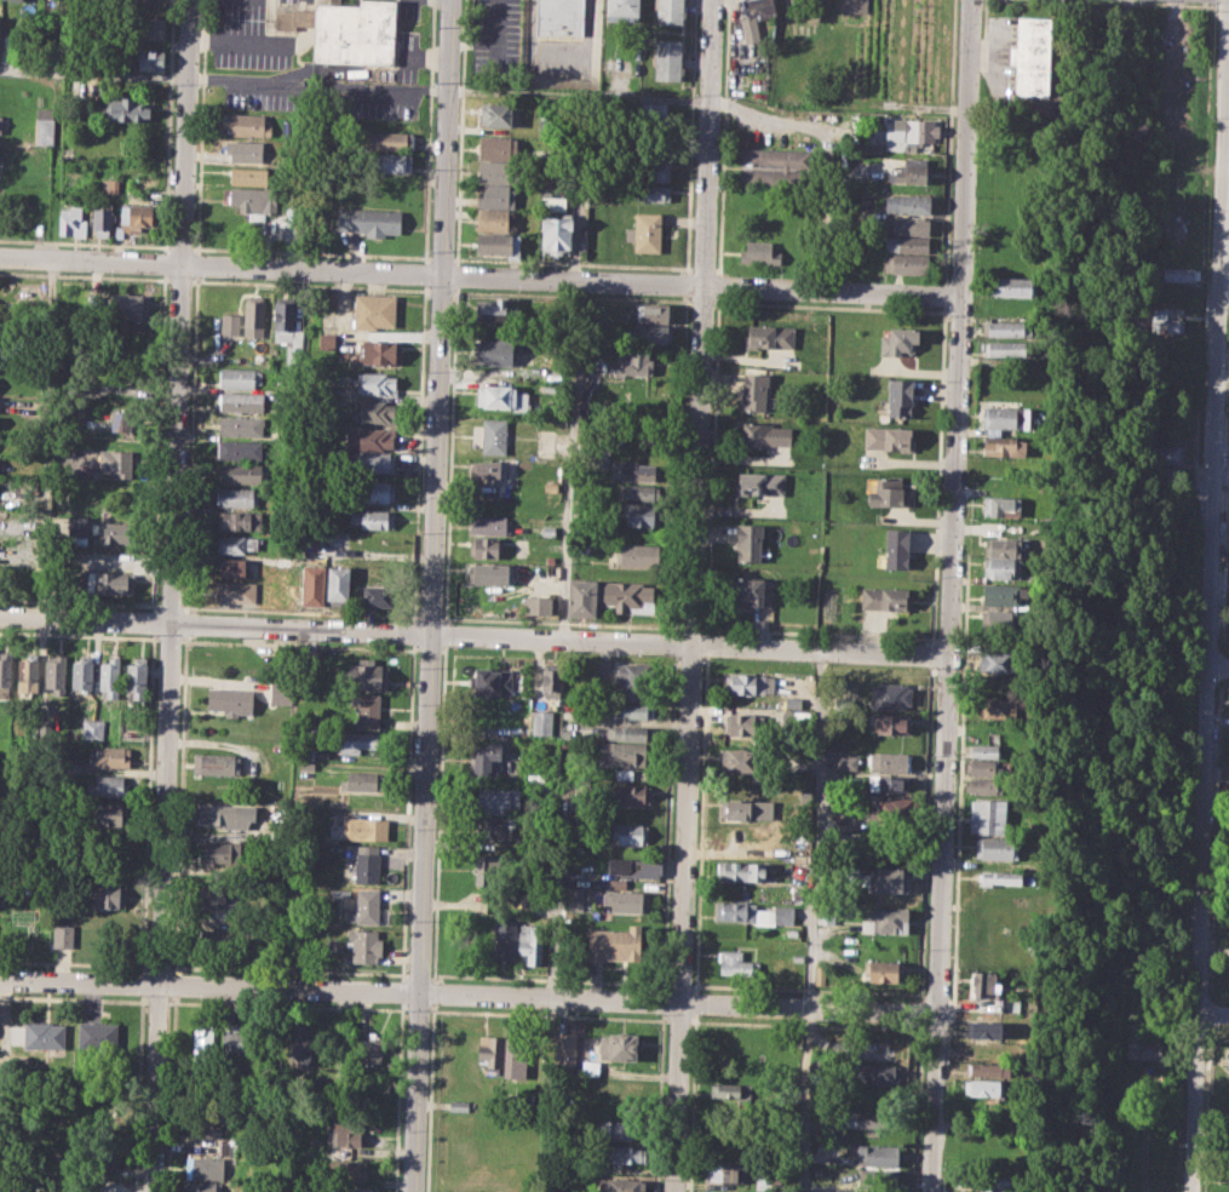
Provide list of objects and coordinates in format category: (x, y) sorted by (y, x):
building: (16, 0)
building: (854, 6)
building: (759, 7)
parking lot: (408, 8)
building: (622, 10)
building: (668, 11)
building: (559, 17)
building: (149, 24)
building: (750, 27)
building: (344, 30)
parking lot: (249, 33)
parking lot: (495, 42)
building: (1032, 55)
parking lot: (407, 56)
building: (149, 58)
building: (667, 58)
road: (93, 73)
road: (318, 84)
parking lot: (326, 96)
road: (712, 103)
building: (74, 107)
building: (126, 109)
building: (649, 113)
building: (499, 115)
building: (0, 124)
building: (247, 124)
building: (45, 125)
road: (460, 131)
building: (917, 131)
building: (386, 139)
road: (949, 141)
building: (498, 147)
building: (246, 151)
building: (774, 157)
building: (391, 162)
building: (647, 170)
building: (495, 172)
building: (911, 172)
building: (248, 177)
building: (774, 178)
building: (109, 183)
road: (579, 188)
building: (647, 191)
building: (495, 196)
building: (765, 201)
building: (253, 202)
building: (553, 202)
building: (907, 202)
building: (102, 218)
building: (134, 218)
building: (69, 219)
building: (492, 219)
building: (368, 220)
building: (909, 224)
building: (645, 231)
building: (556, 234)
building: (494, 243)
building: (906, 243)
building: (759, 253)
building: (906, 263)
building: (1179, 274)
road: (456, 275)
road: (481, 275)
building: (1012, 286)
road: (944, 294)
road: (1224, 302)
building: (130, 306)
building: (495, 309)
building: (373, 311)
building: (653, 313)
building: (254, 315)
building: (230, 322)
building: (1162, 322)
building: (1004, 328)
building: (288, 331)
building: (654, 333)
building: (770, 336)
building: (326, 339)
building: (898, 340)
building: (1006, 348)
building: (380, 350)
building: (496, 351)
building: (636, 363)
building: (239, 377)
building: (375, 383)
building: (753, 390)
building: (898, 396)
building: (501, 397)
building: (241, 401)
building: (377, 412)
building: (1000, 418)
building: (124, 422)
building: (241, 425)
building: (494, 435)
building: (764, 435)
building: (372, 439)
building: (888, 439)
building: (1003, 446)
building: (239, 449)
building: (1161, 452)
road: (452, 454)
road: (567, 458)
building: (377, 462)
building: (115, 463)
building: (488, 469)
building: (636, 471)
building: (240, 472)
road: (938, 475)
building: (1161, 475)
building: (759, 482)
building: (375, 491)
building: (639, 492)
building: (886, 492)
building: (237, 495)
building: (1003, 506)
building: (642, 514)
building: (372, 518)
building: (239, 520)
building: (488, 525)
building: (77, 526)
building: (550, 529)
building: (111, 532)
building: (748, 541)
building: (235, 543)
building: (484, 546)
building: (1003, 546)
building: (894, 550)
building: (638, 555)
building: (285, 561)
building: (231, 567)
building: (1001, 567)
building: (377, 569)
building: (488, 573)
building: (338, 581)
building: (114, 583)
building: (312, 585)
building: (753, 590)
building: (234, 591)
building: (1000, 594)
building: (378, 595)
road: (171, 596)
road: (433, 596)
road: (697, 596)
road: (951, 596)
building: (631, 597)
building: (582, 598)
building: (884, 598)
building: (538, 604)
road: (1207, 611)
building: (999, 620)
road: (446, 632)
road: (475, 635)
road: (932, 654)
building: (998, 660)
road: (1217, 670)
building: (5, 671)
building: (27, 674)
building: (54, 674)
building: (82, 674)
building: (632, 674)
building: (366, 675)
building: (109, 676)
building: (136, 677)
building: (492, 681)
building: (551, 682)
building: (746, 682)
building: (281, 690)
building: (632, 694)
building: (890, 694)
building: (228, 700)
building: (995, 706)
building: (366, 709)
building: (637, 711)
building: (541, 722)
building: (889, 724)
building: (746, 726)
building: (92, 727)
building: (626, 732)
building: (357, 740)
building: (987, 746)
building: (306, 750)
building: (624, 752)
building: (113, 755)
building: (484, 758)
building: (743, 761)
building: (848, 762)
building: (889, 762)
building: (219, 763)
building: (981, 767)
building: (626, 774)
building: (364, 780)
building: (888, 784)
building: (109, 785)
building: (982, 785)
building: (631, 792)
building: (498, 800)
building: (741, 809)
building: (891, 810)
building: (217, 813)
road: (440, 813)
building: (109, 814)
building: (987, 815)
building: (358, 827)
building: (495, 829)
building: (628, 832)
road: (926, 832)
building: (742, 838)
building: (888, 847)
building: (995, 847)
building: (218, 853)
building: (798, 856)
building: (366, 864)
building: (634, 867)
building: (487, 870)
building: (741, 871)
building: (998, 877)
building: (886, 879)
building: (108, 894)
building: (219, 895)
building: (574, 898)
building: (628, 900)
building: (364, 906)
building: (753, 913)
road: (811, 919)
building: (888, 919)
building: (63, 935)
building: (504, 939)
building: (216, 940)
building: (532, 941)
building: (614, 941)
building: (363, 944)
building: (736, 963)
building: (884, 970)
building: (820, 974)
building: (983, 985)
road: (435, 991)
road: (466, 992)
building: (1011, 1004)
road: (920, 1010)
road: (1212, 1010)
building: (986, 1026)
building: (44, 1035)
building: (97, 1035)
building: (234, 1039)
building: (299, 1044)
building: (202, 1047)
building: (618, 1047)
building: (563, 1048)
building: (982, 1049)
building: (1143, 1049)
building: (490, 1055)
building: (516, 1056)
building: (371, 1058)
building: (1227, 1060)
building: (590, 1067)
building: (987, 1068)
building: (879, 1074)
building: (984, 1087)
building: (729, 1090)
road: (430, 1096)
building: (459, 1106)
building: (102, 1108)
road: (917, 1108)
building: (862, 1117)
building: (207, 1128)
building: (620, 1129)
building: (346, 1134)
building: (226, 1144)
building: (626, 1154)
building: (877, 1154)
building: (97, 1161)
building: (982, 1162)
building: (206, 1167)
building: (1225, 1169)
building: (346, 1170)
building: (727, 1173)
building: (879, 1179)
building: (764, 1182)
building: (993, 1182)
building: (621, 1185)
building: (202, 1187)
building: (360, 1190)
building: (471, 1191)
building: (723, 1191)

